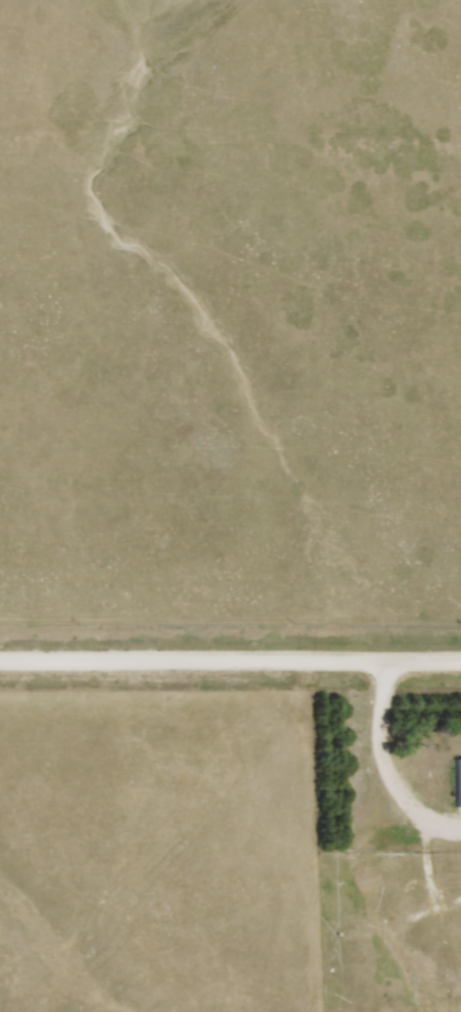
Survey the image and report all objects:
road: (230, 661)
road: (381, 764)
building: (456, 782)

